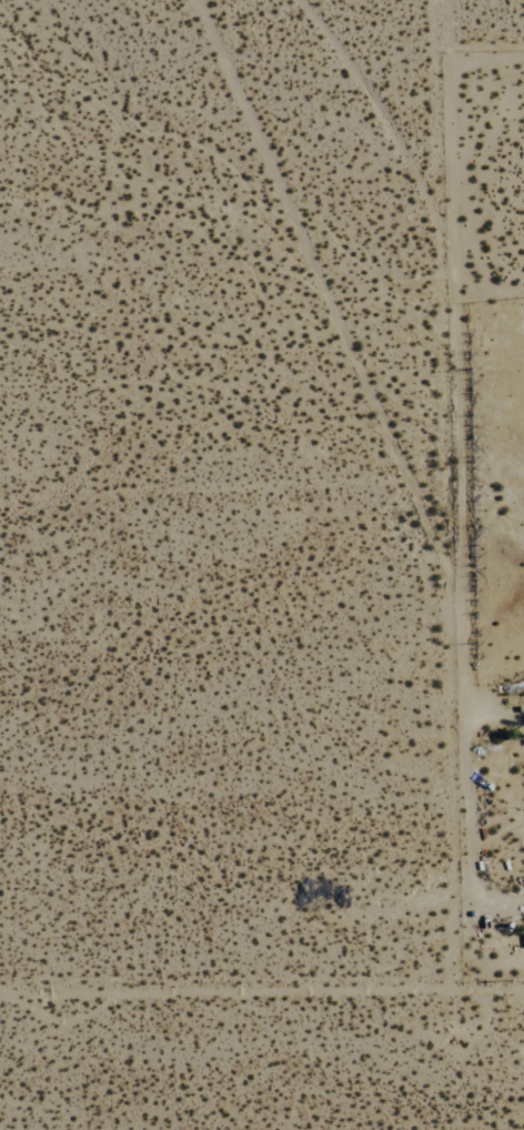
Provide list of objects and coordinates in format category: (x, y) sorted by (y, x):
road: (443, 108)
road: (369, 109)
road: (446, 601)
road: (484, 985)
road: (222, 987)

